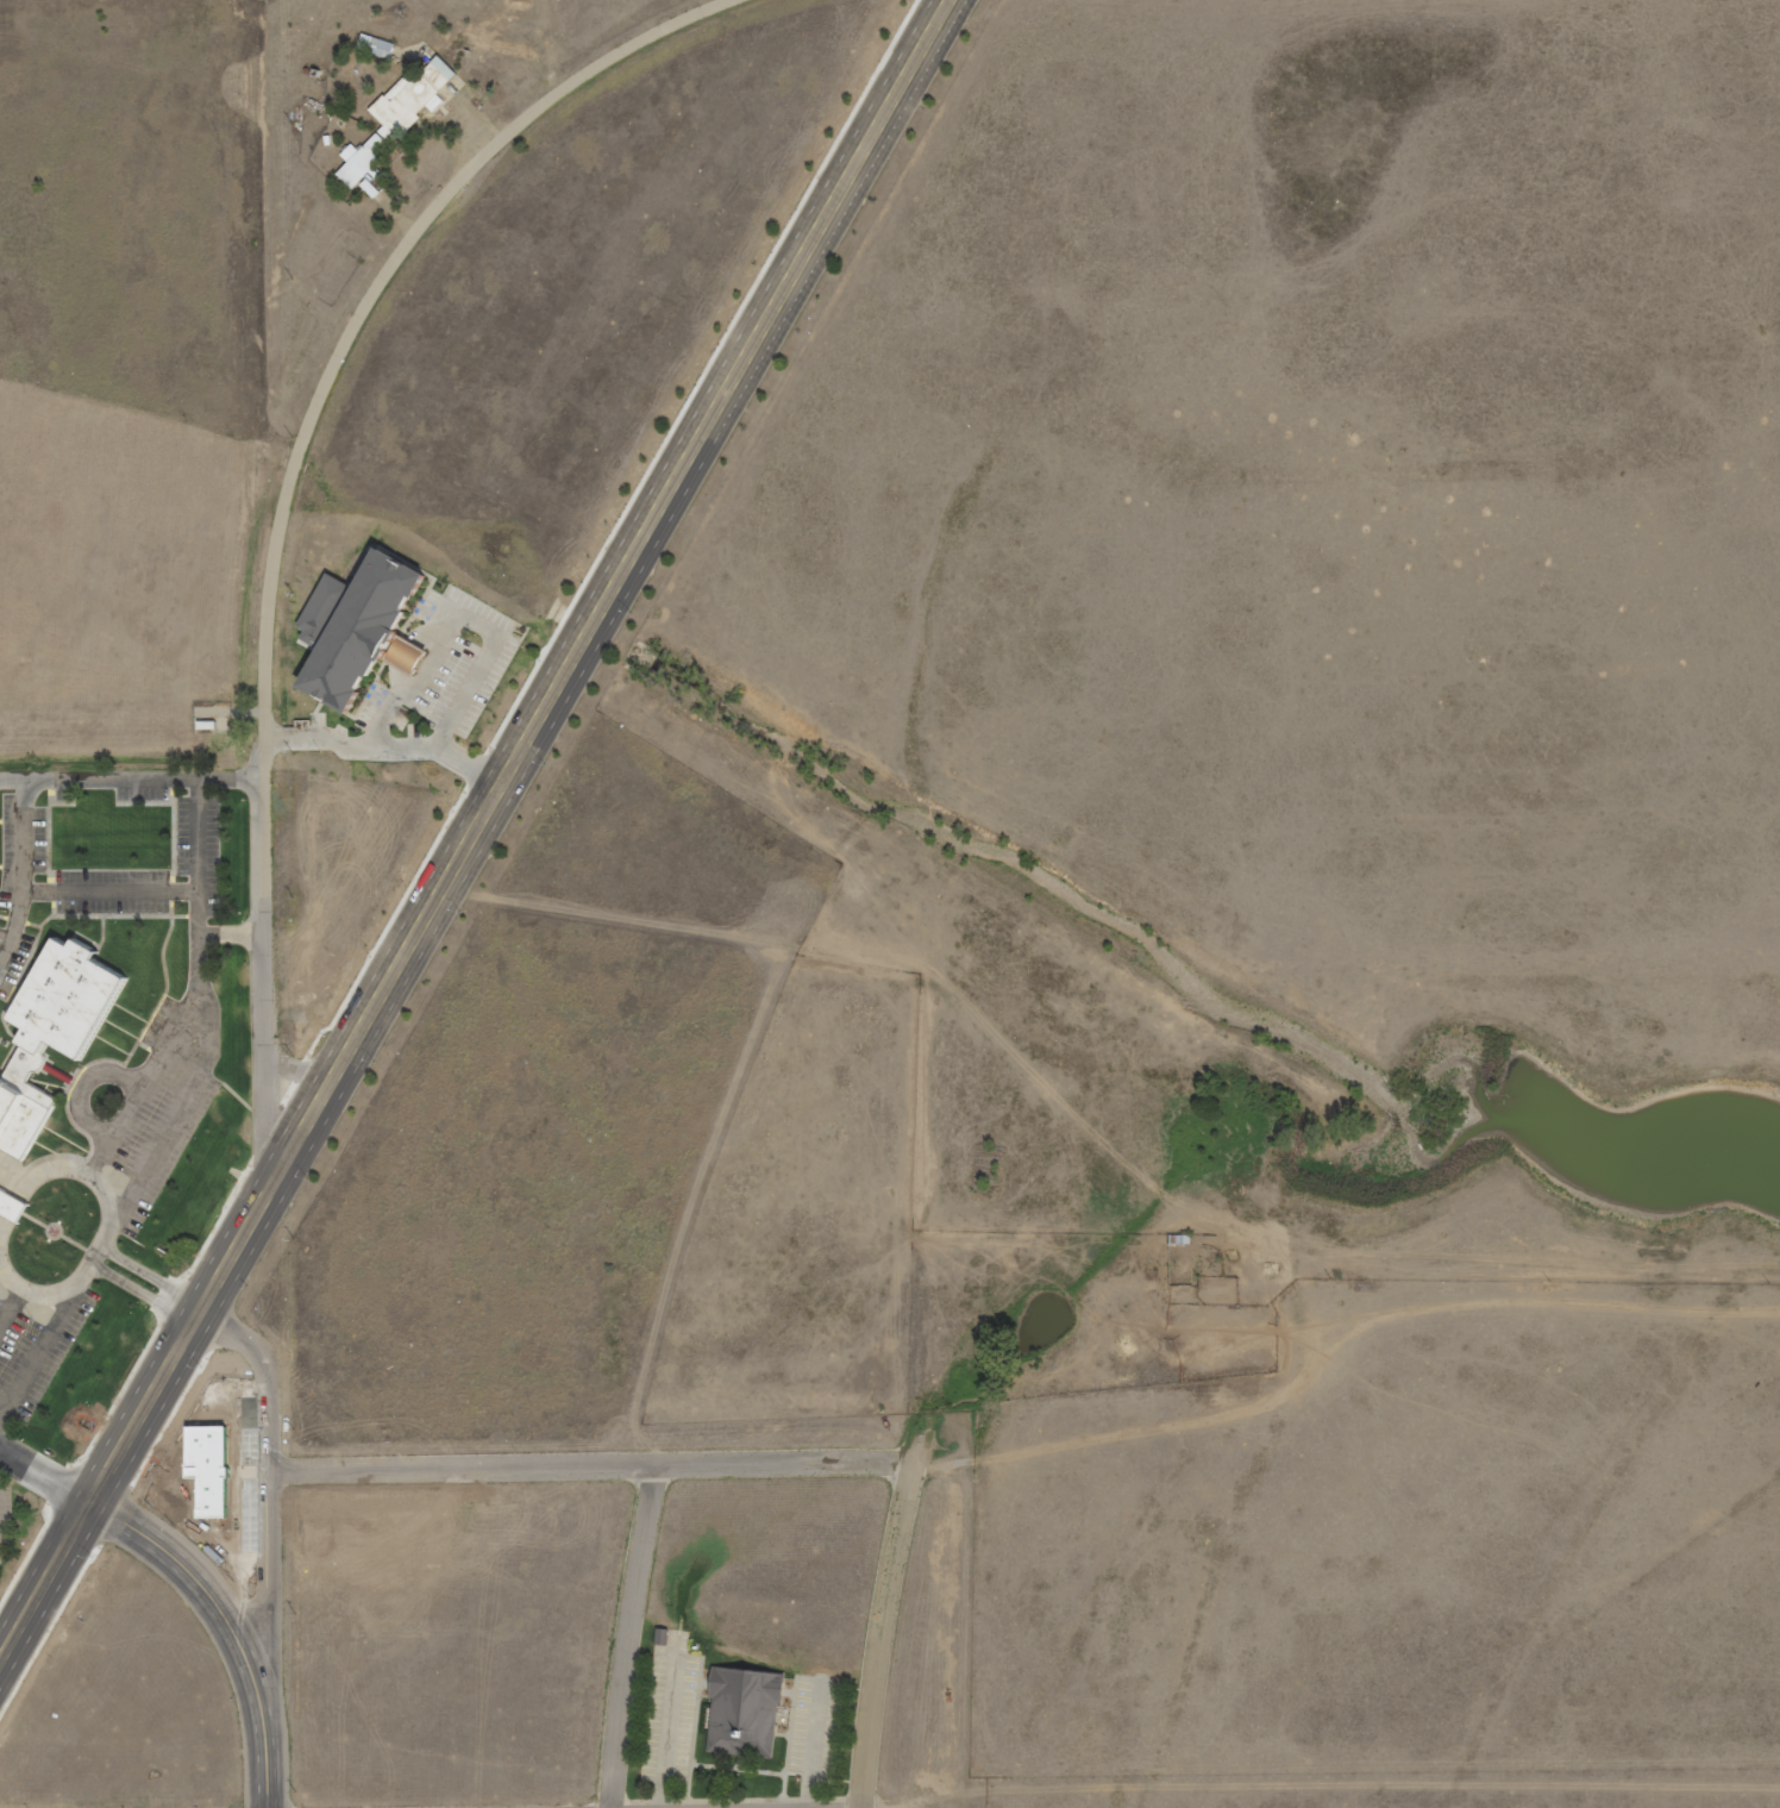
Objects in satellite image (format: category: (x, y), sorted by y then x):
building: (372, 45)
building: (410, 93)
building: (361, 164)
road: (287, 487)
road: (615, 580)
building: (359, 633)
road: (387, 745)
road: (129, 777)
road: (230, 931)
road: (199, 1013)
building: (56, 1041)
road: (143, 1080)
road: (56, 1169)
building: (15, 1209)
road: (138, 1269)
building: (1204, 1271)
road: (129, 1287)
road: (64, 1289)
road: (183, 1307)
road: (142, 1410)
road: (594, 1463)
road: (45, 1472)
road: (268, 1490)
road: (199, 1582)
road: (10, 1626)
road: (889, 1633)
road: (634, 1634)
building: (751, 1715)
road: (264, 1754)

